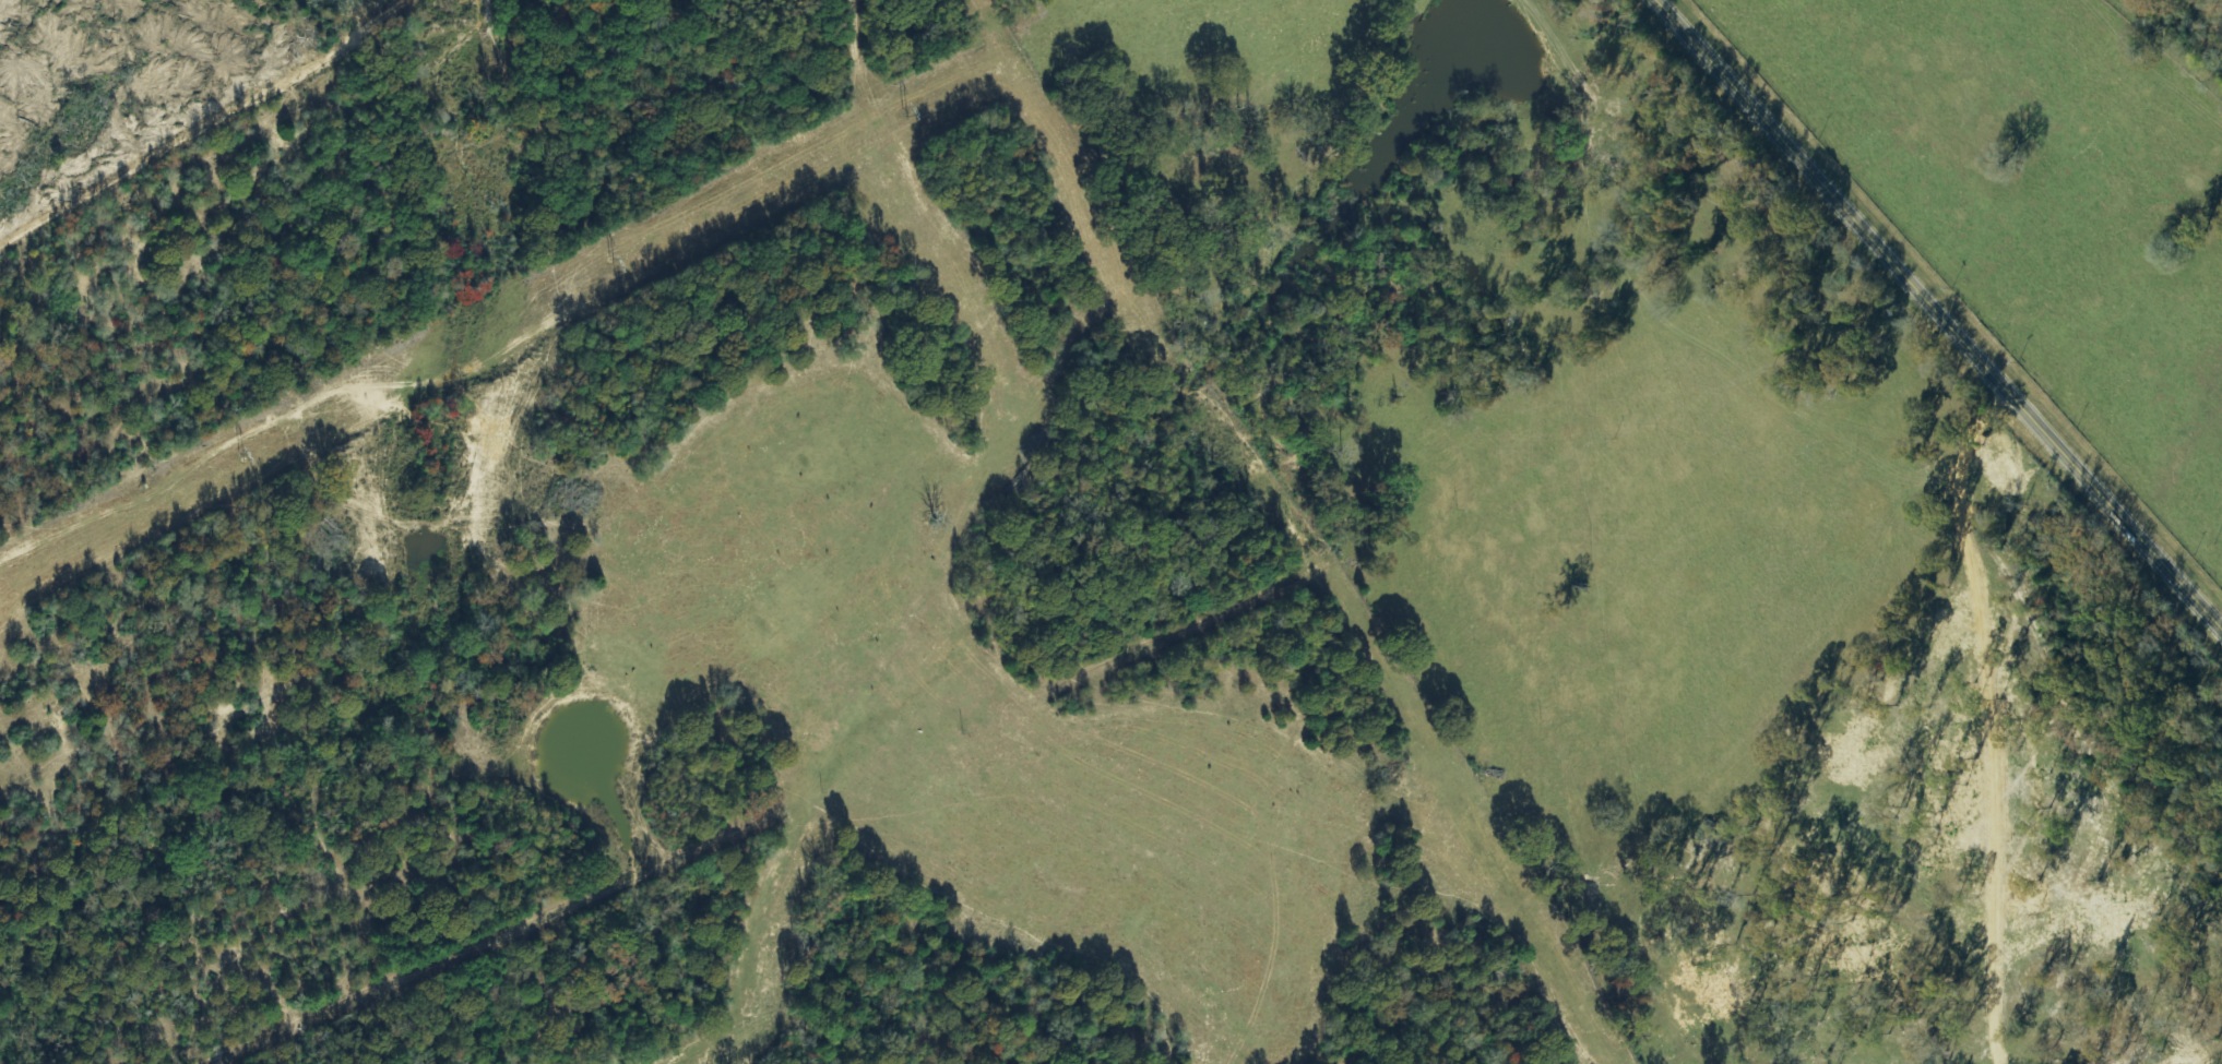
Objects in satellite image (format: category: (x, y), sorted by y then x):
power tower: (900, 107)
power tower: (608, 260)
road: (1937, 315)
power tower: (240, 453)

